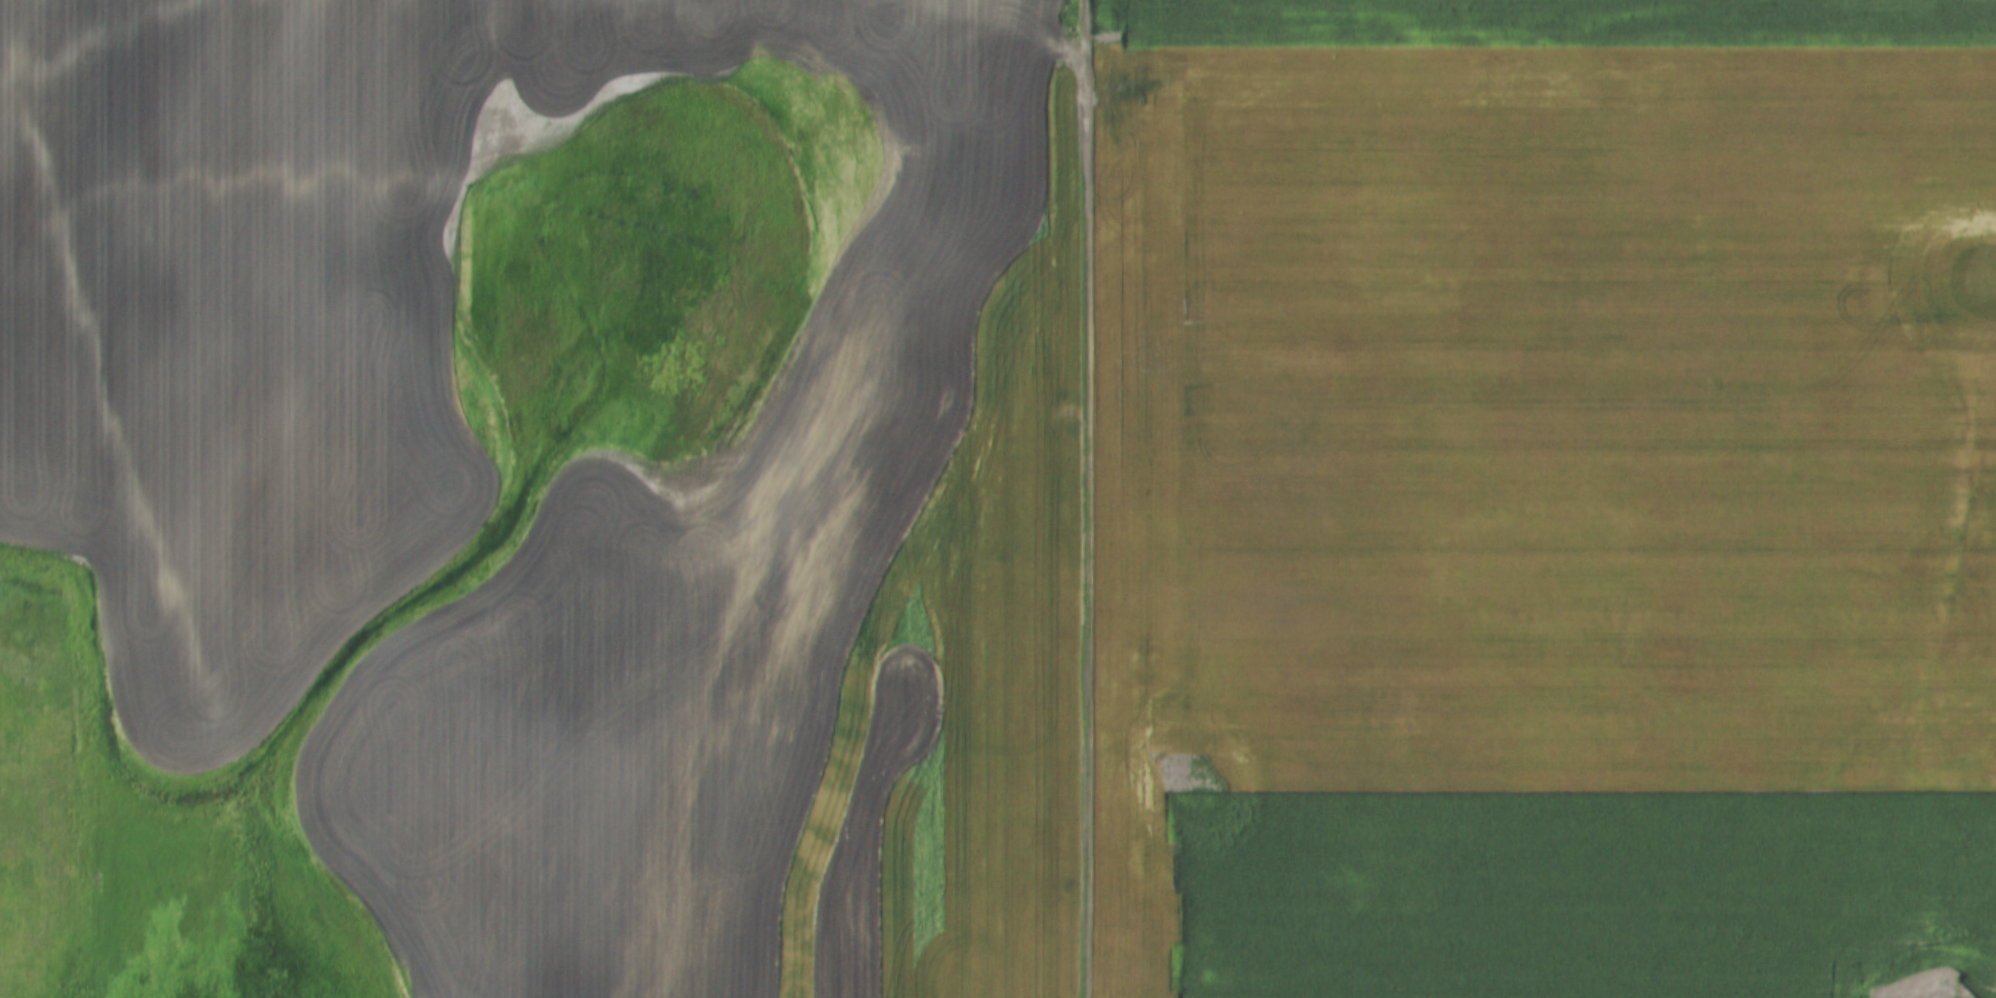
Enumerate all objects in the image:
road: (1097, 499)

